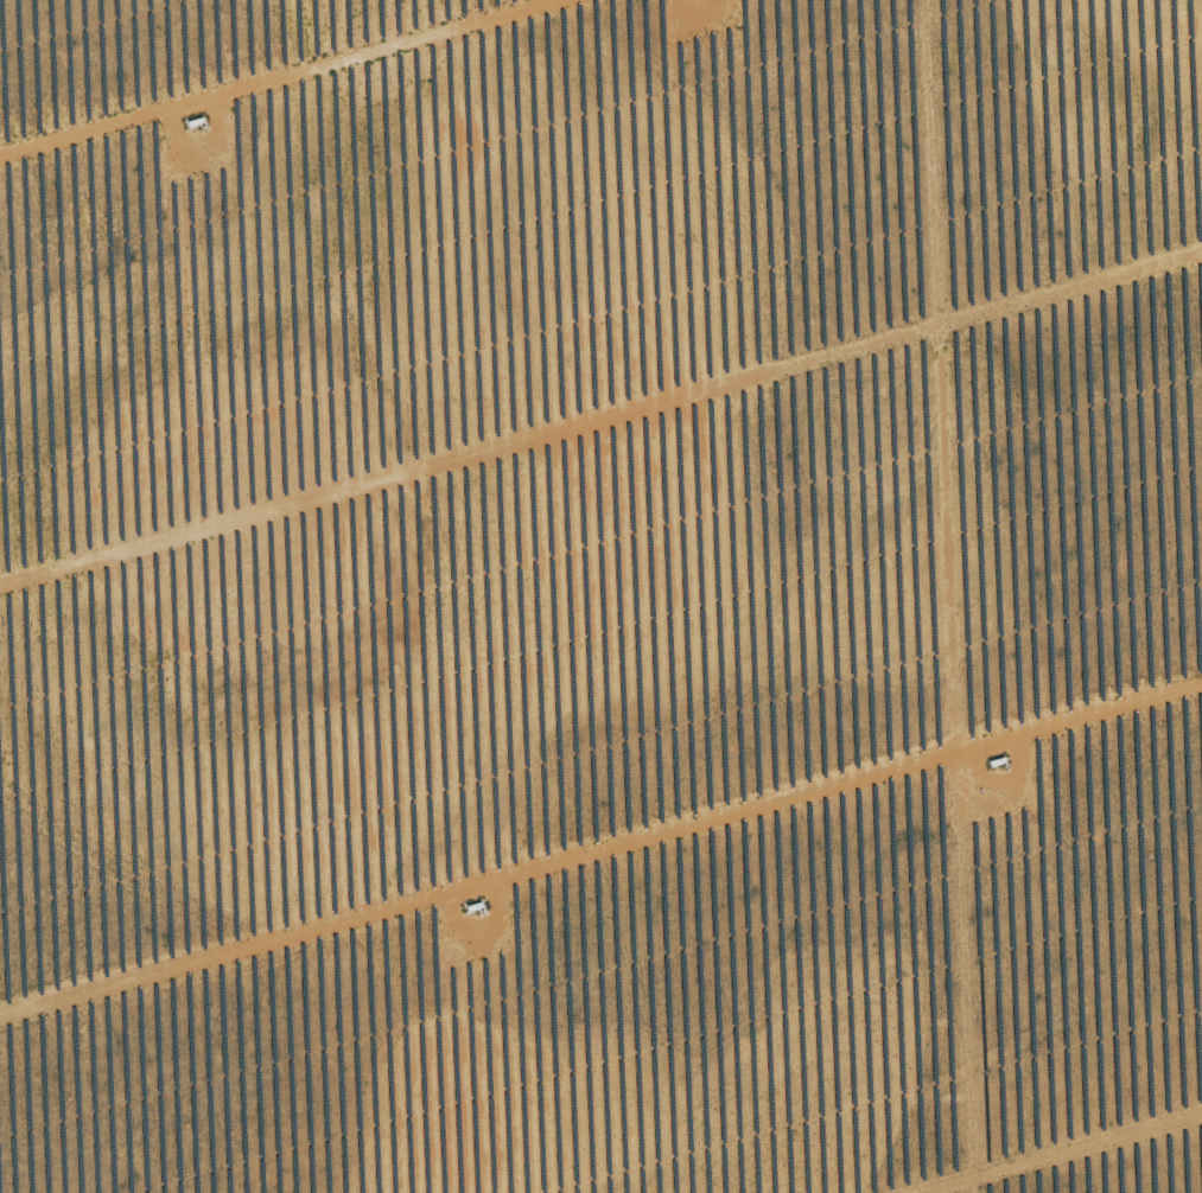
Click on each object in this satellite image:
solar farm: (600, 596)

